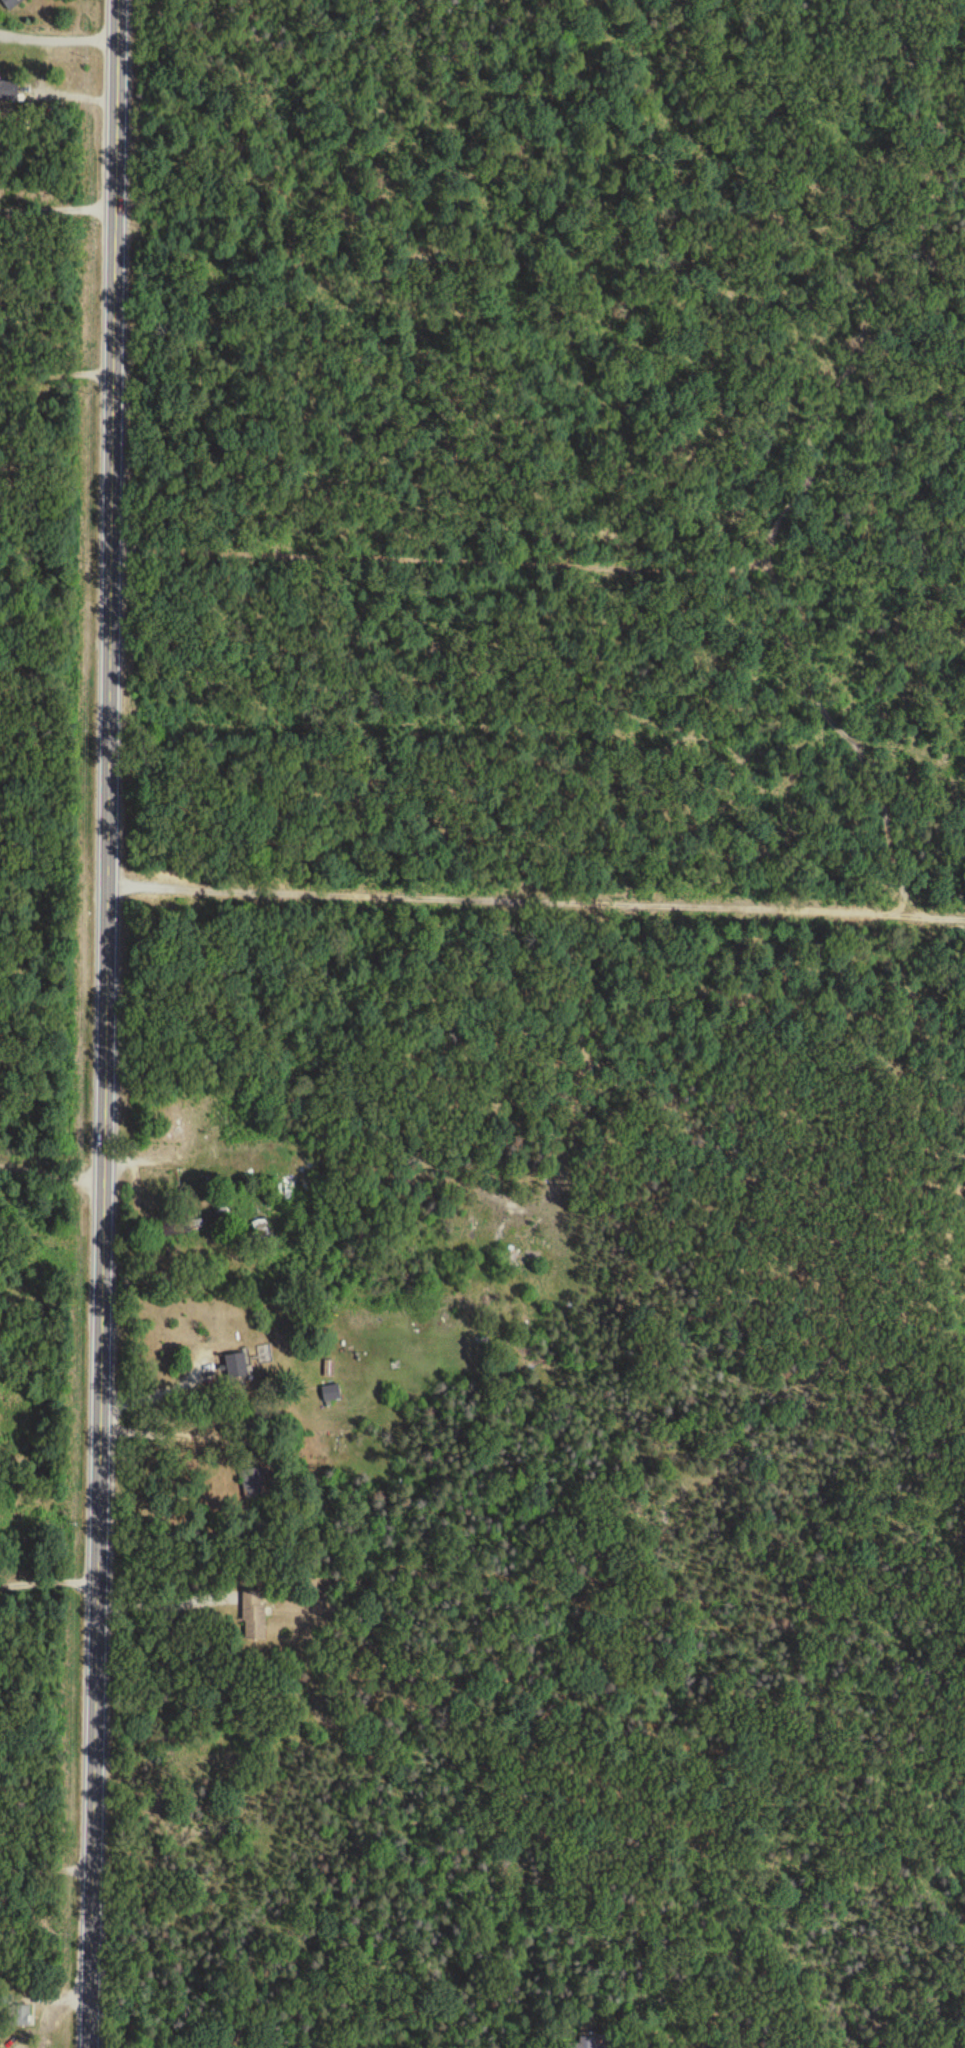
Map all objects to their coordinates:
building: (13, 4)
road: (62, 41)
building: (9, 93)
road: (58, 211)
road: (537, 520)
road: (103, 1023)
road: (50, 1166)
building: (182, 1226)
building: (260, 1229)
building: (238, 1371)
building: (329, 1371)
road: (150, 1390)
building: (332, 1395)
road: (47, 1575)
road: (162, 1596)
building: (255, 1617)
road: (45, 1862)
building: (21, 2018)
building: (591, 2043)

